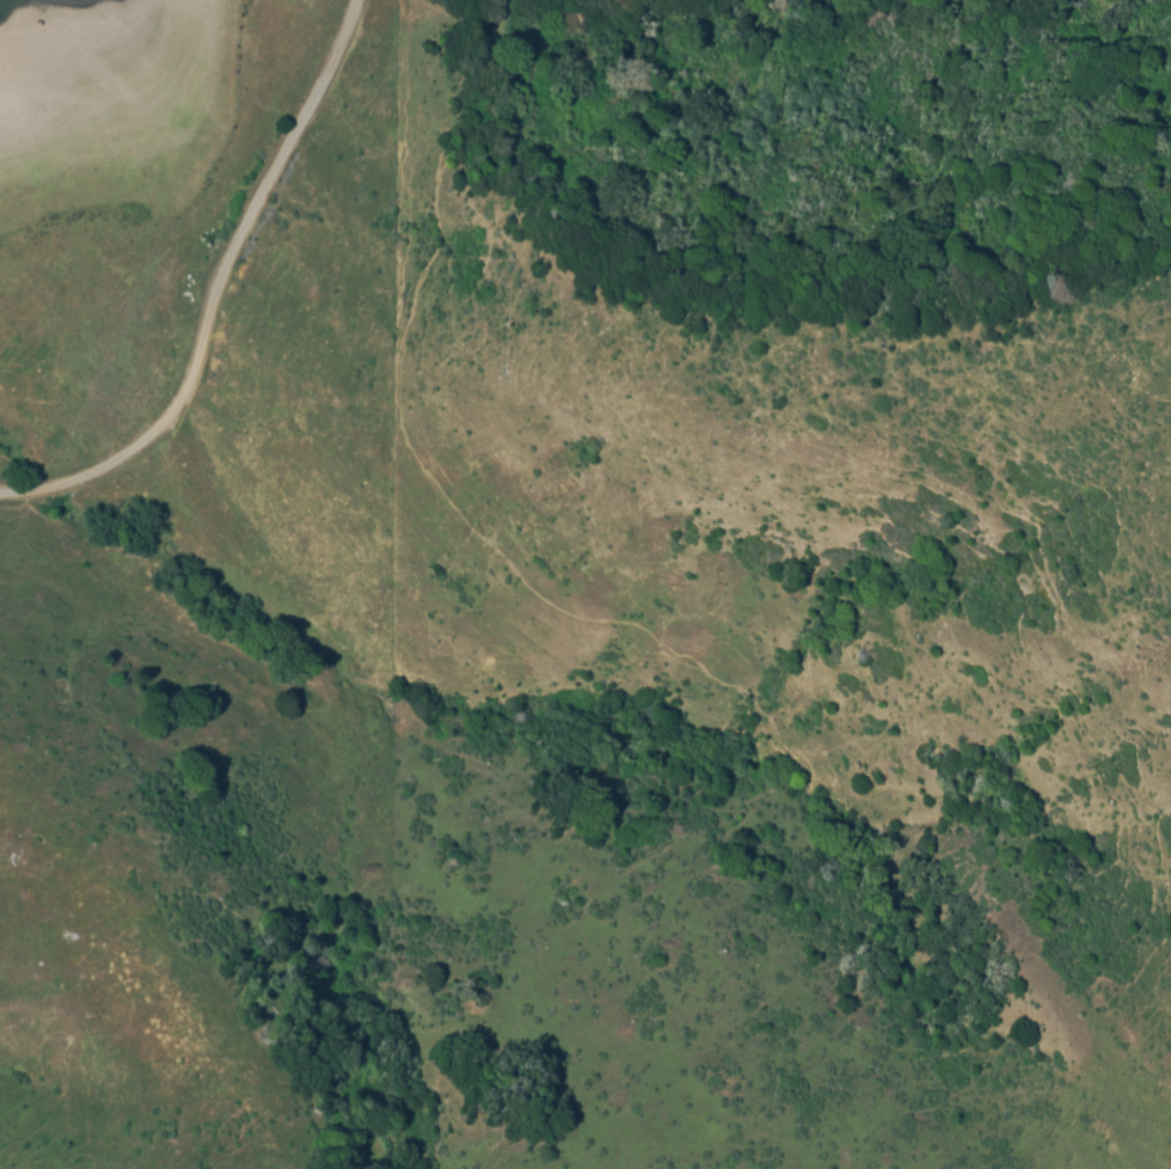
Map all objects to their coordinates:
road: (215, 296)

